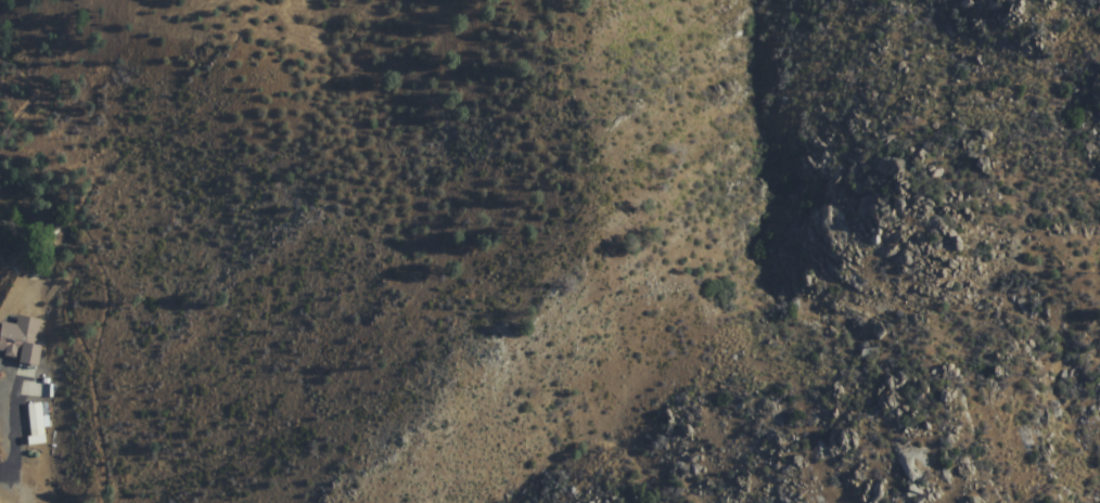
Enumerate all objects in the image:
building: (23, 340)
building: (37, 415)

